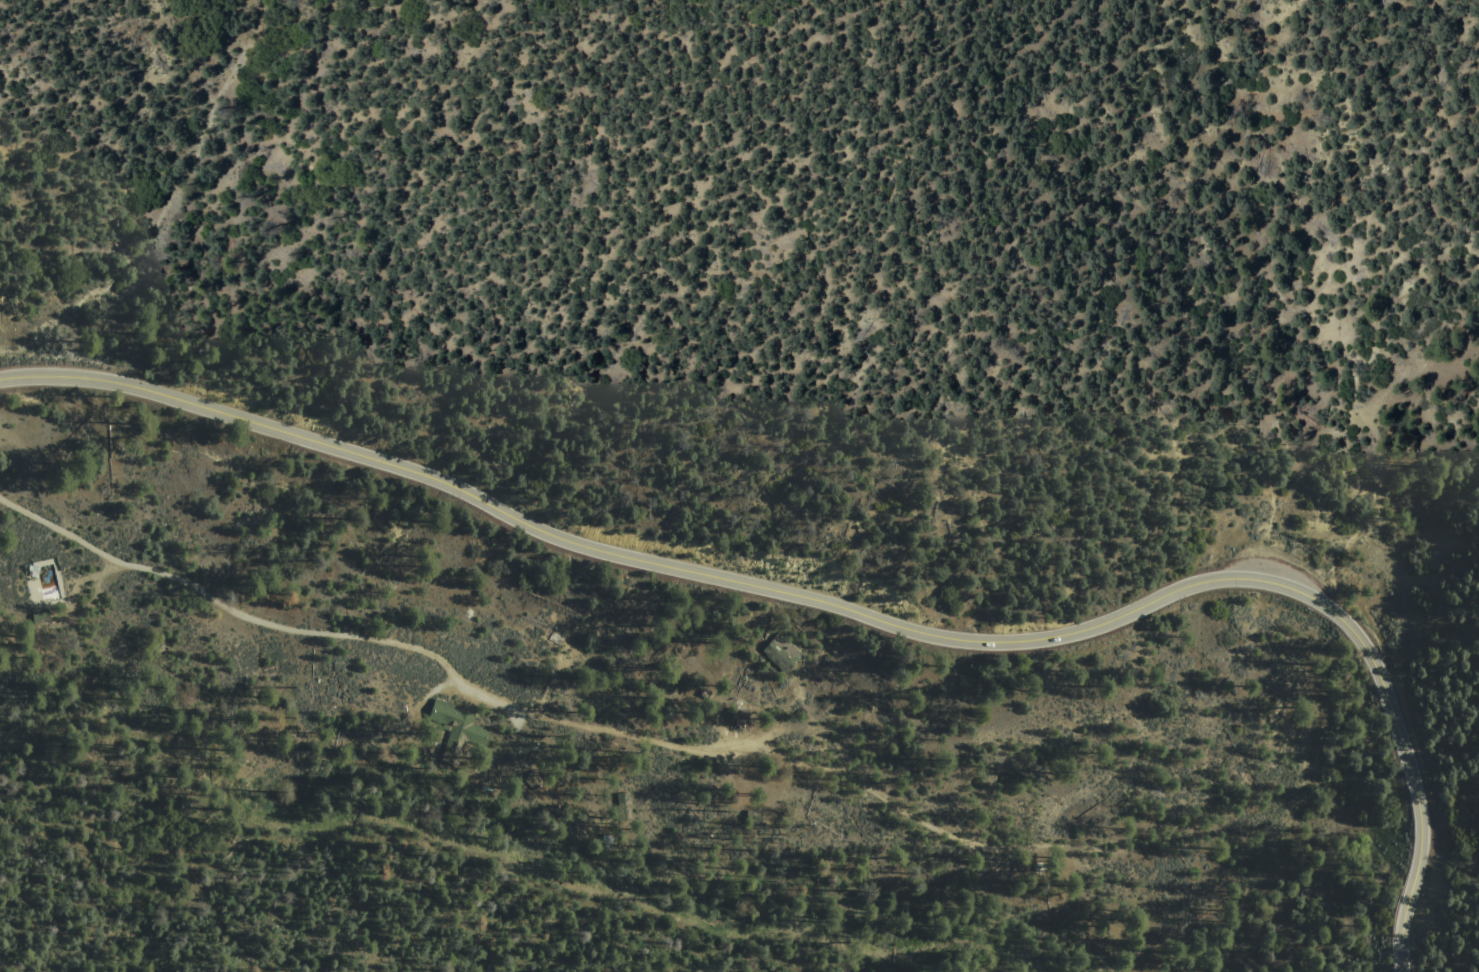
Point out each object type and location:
building: (39, 586)
road: (851, 610)
road: (258, 620)
building: (780, 649)
building: (448, 714)
building: (736, 715)
road: (630, 736)

